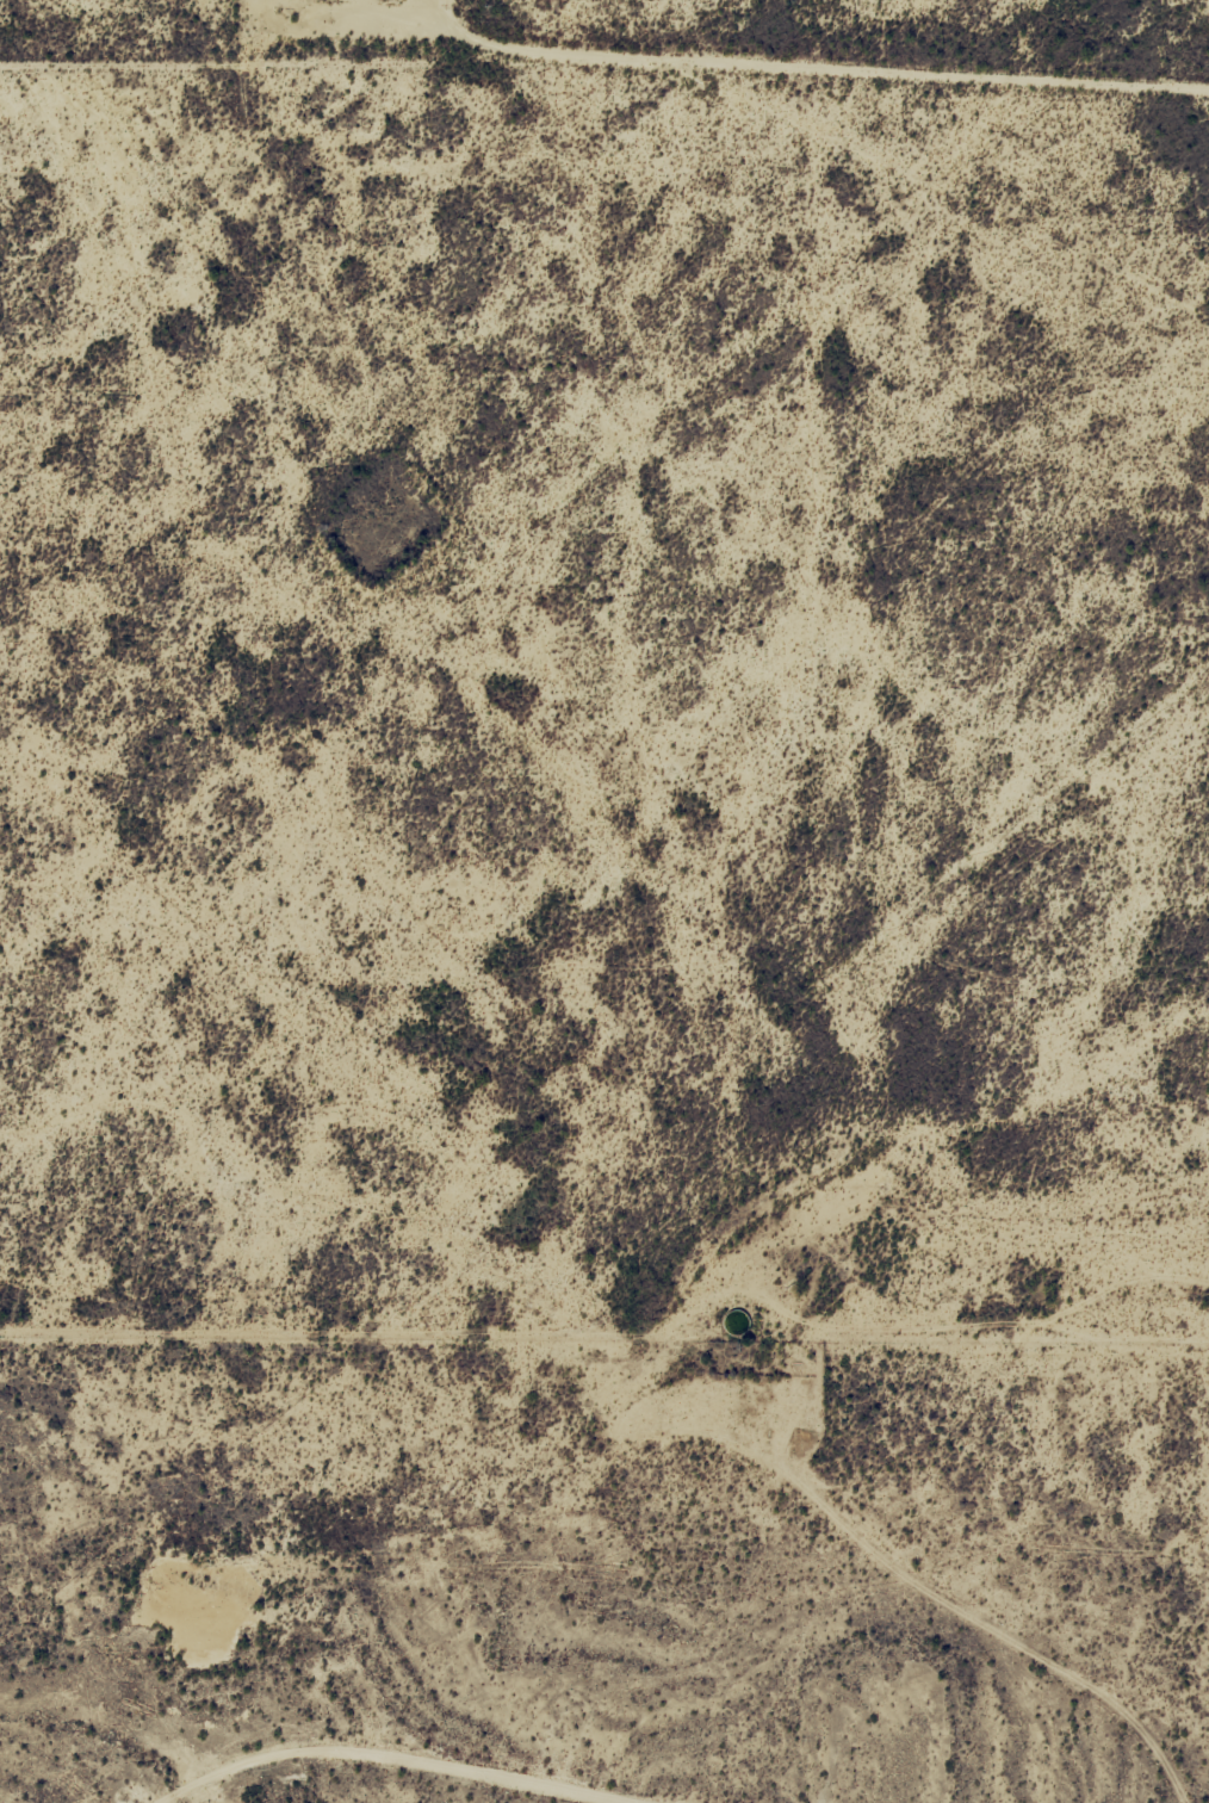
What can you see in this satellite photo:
road: (757, 1421)

